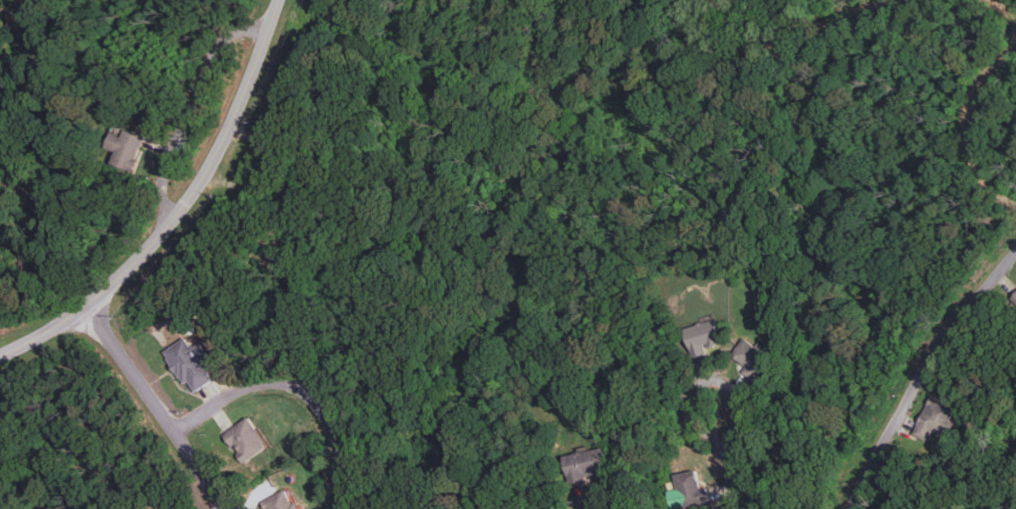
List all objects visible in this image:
road: (1009, 6)
road: (776, 38)
road: (189, 108)
road: (967, 124)
building: (126, 149)
road: (268, 171)
road: (180, 210)
building: (1013, 299)
building: (702, 336)
building: (752, 359)
building: (191, 362)
road: (922, 372)
road: (297, 391)
road: (159, 405)
building: (935, 418)
building: (246, 439)
road: (730, 455)
building: (587, 463)
building: (691, 489)
building: (280, 502)

